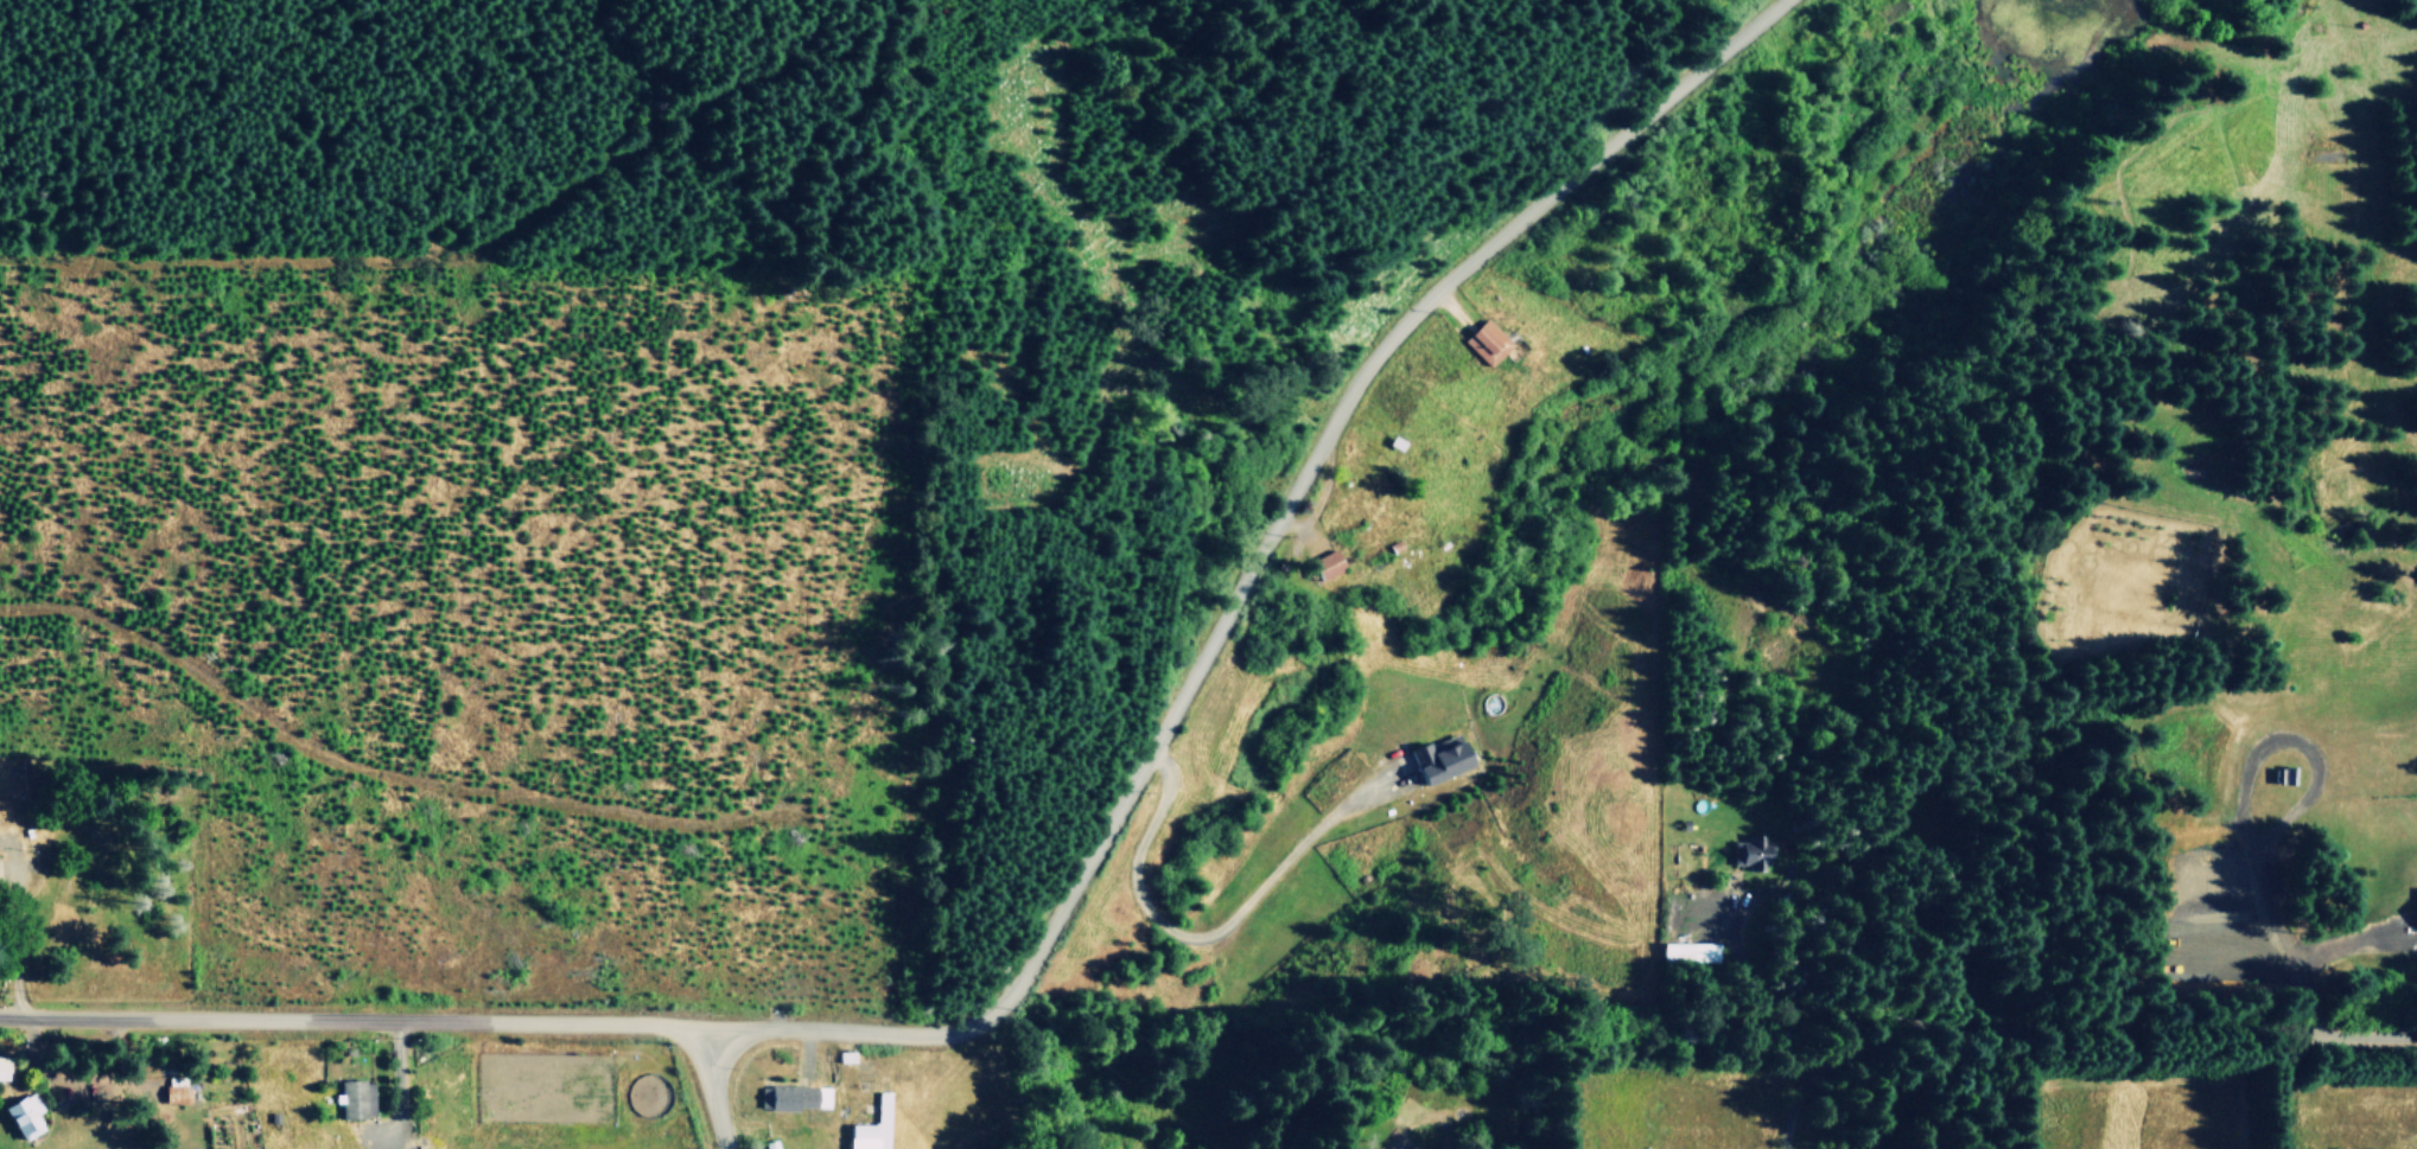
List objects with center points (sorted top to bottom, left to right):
building: (1488, 341)
building: (1330, 566)
road: (1245, 575)
building: (1754, 853)
road: (1208, 934)
building: (1687, 952)
road: (352, 1016)
road: (2053, 1041)
building: (4, 1067)
road: (713, 1085)
road: (2277, 1086)
building: (176, 1090)
building: (788, 1097)
building: (356, 1098)
building: (25, 1115)
building: (872, 1128)
building: (1395, 1147)
building: (1413, 1147)

